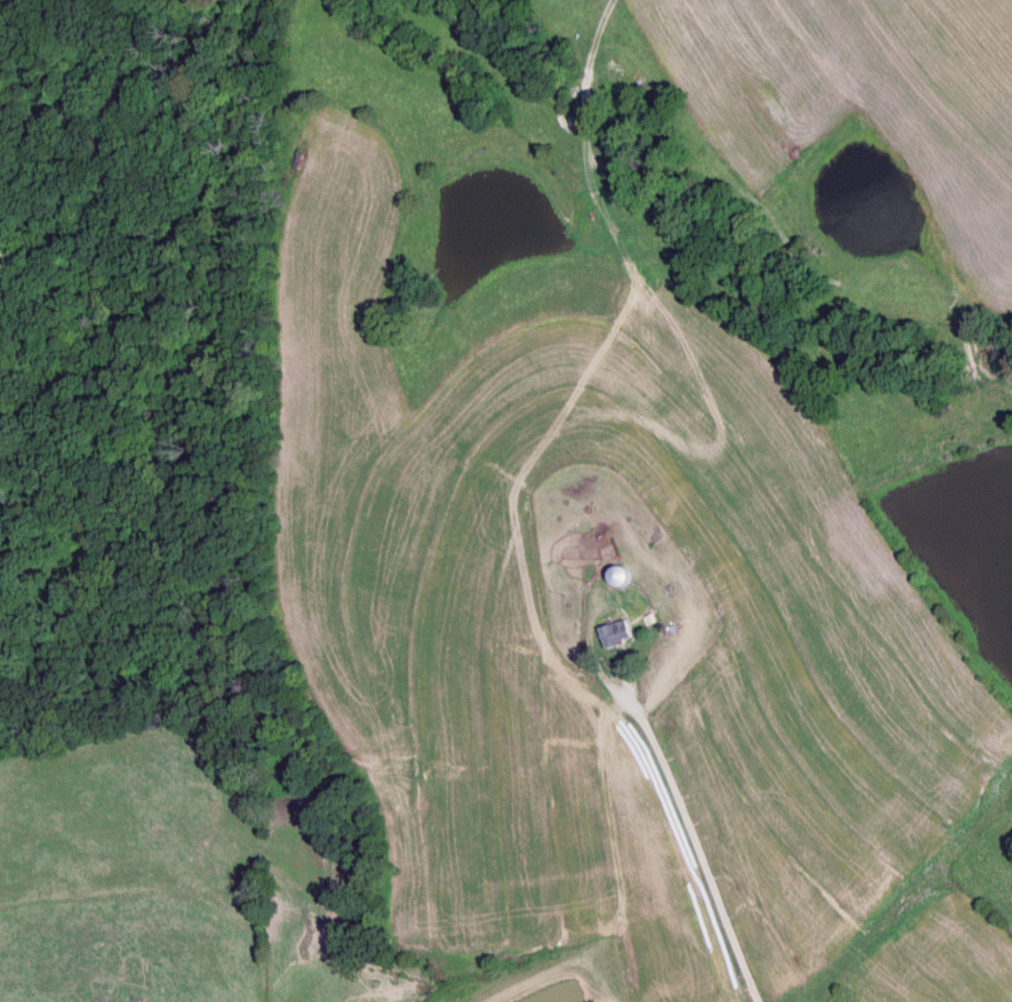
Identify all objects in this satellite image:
building: (618, 579)
building: (670, 633)
building: (614, 636)

